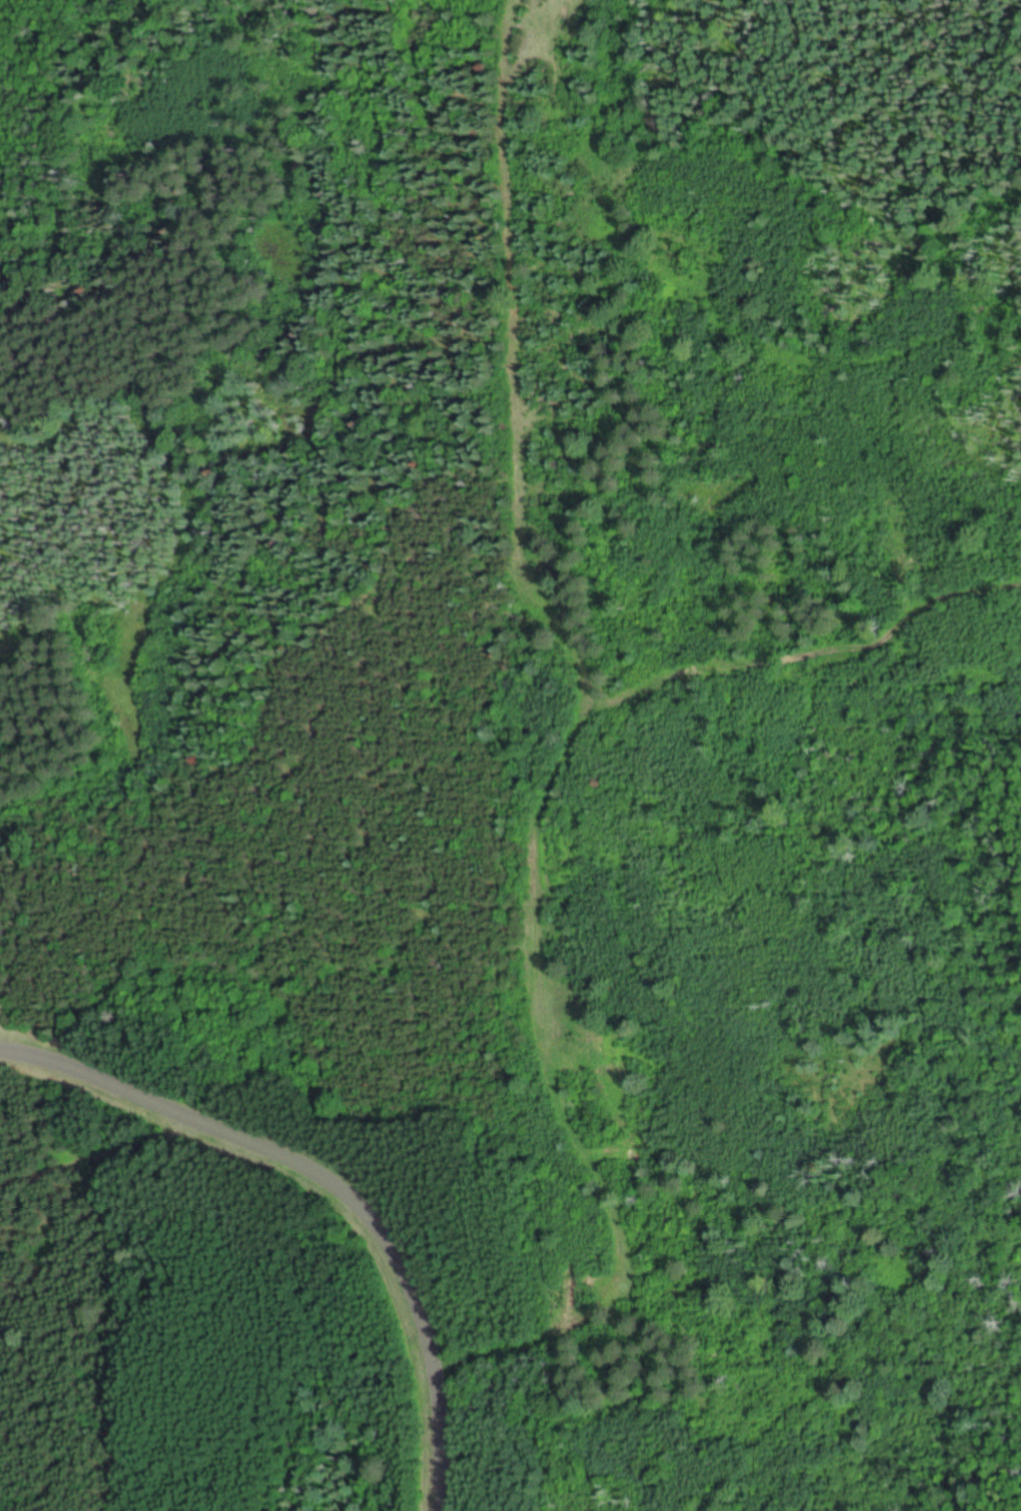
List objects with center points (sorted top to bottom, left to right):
road: (327, 1189)

